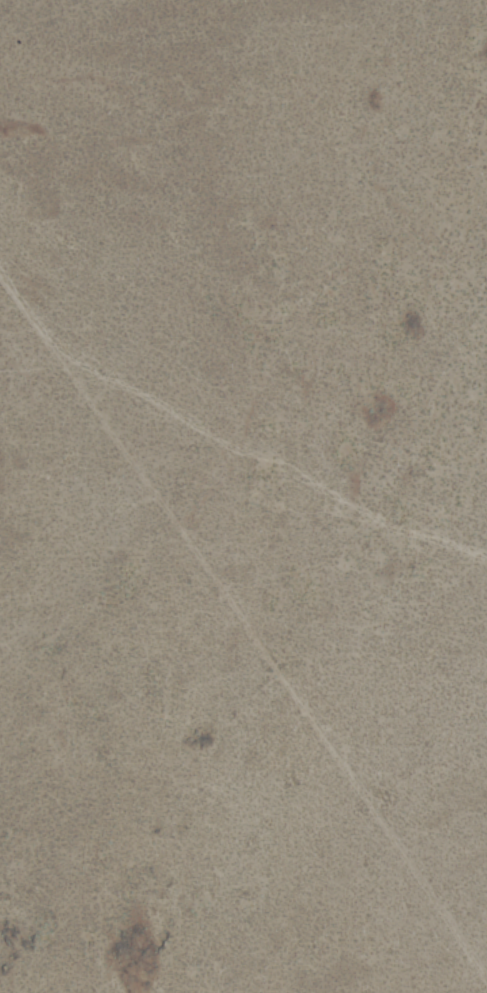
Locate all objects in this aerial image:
road: (247, 624)

